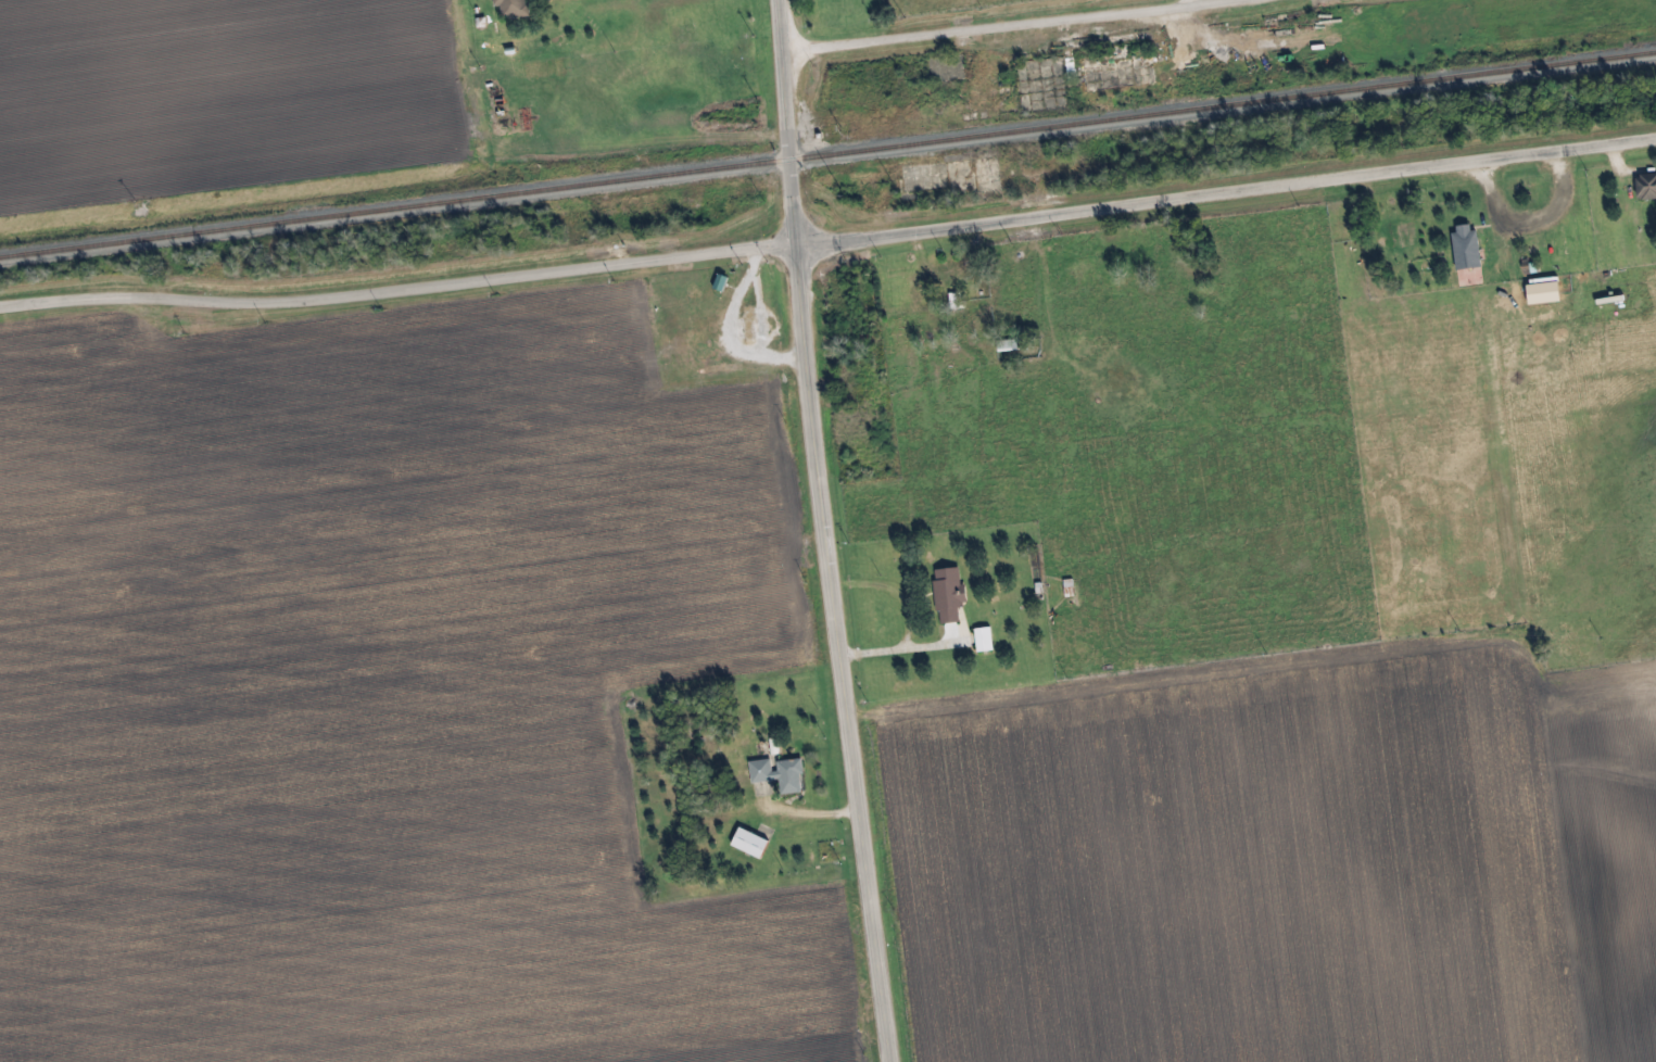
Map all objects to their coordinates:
road: (1011, 29)
railway: (827, 154)
building: (1647, 188)
road: (1227, 192)
building: (1468, 250)
road: (397, 293)
building: (1546, 293)
road: (825, 531)
building: (951, 597)
building: (986, 642)
building: (781, 775)
building: (753, 845)

